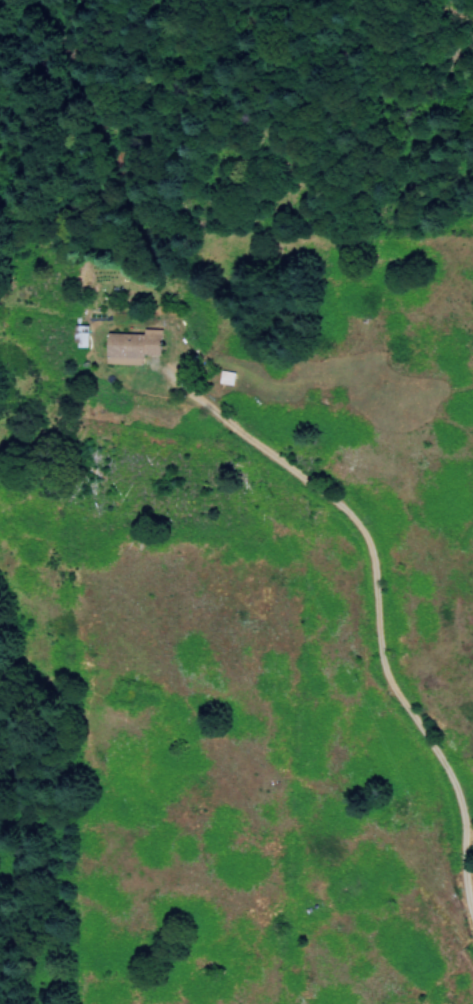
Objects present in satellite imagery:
building: (130, 347)
road: (378, 606)

